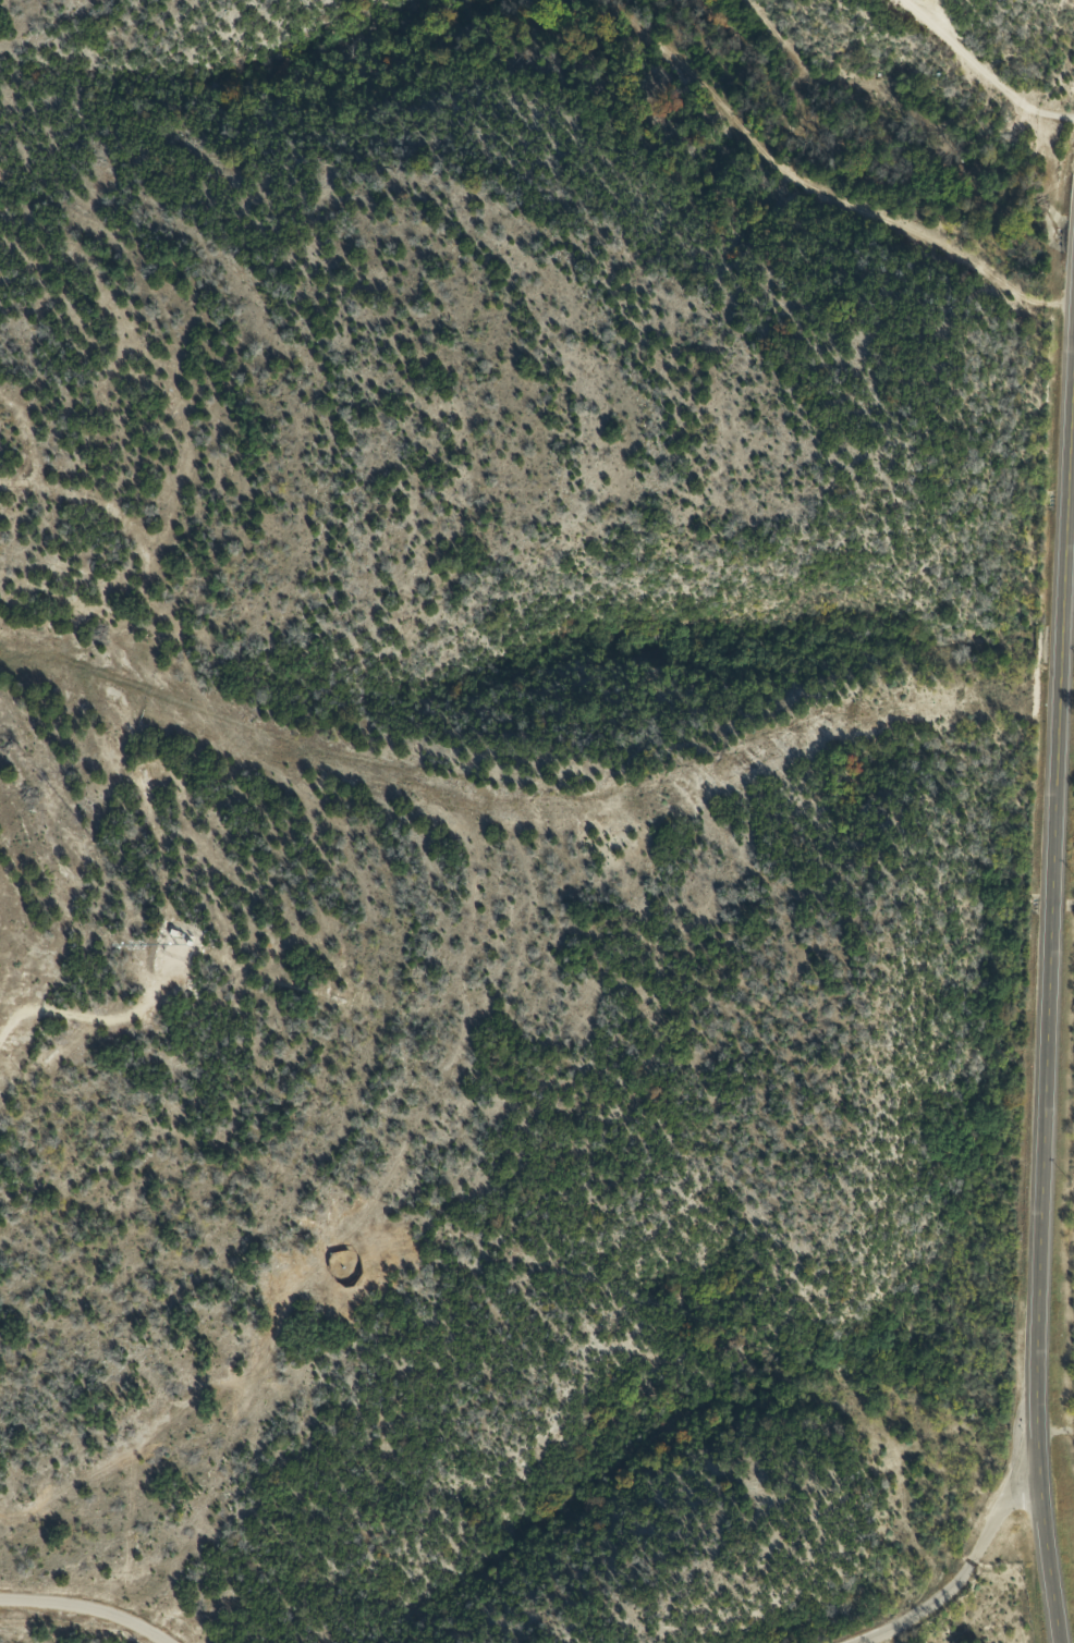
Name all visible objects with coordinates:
road: (985, 71)
road: (1059, 957)
road: (971, 1570)

